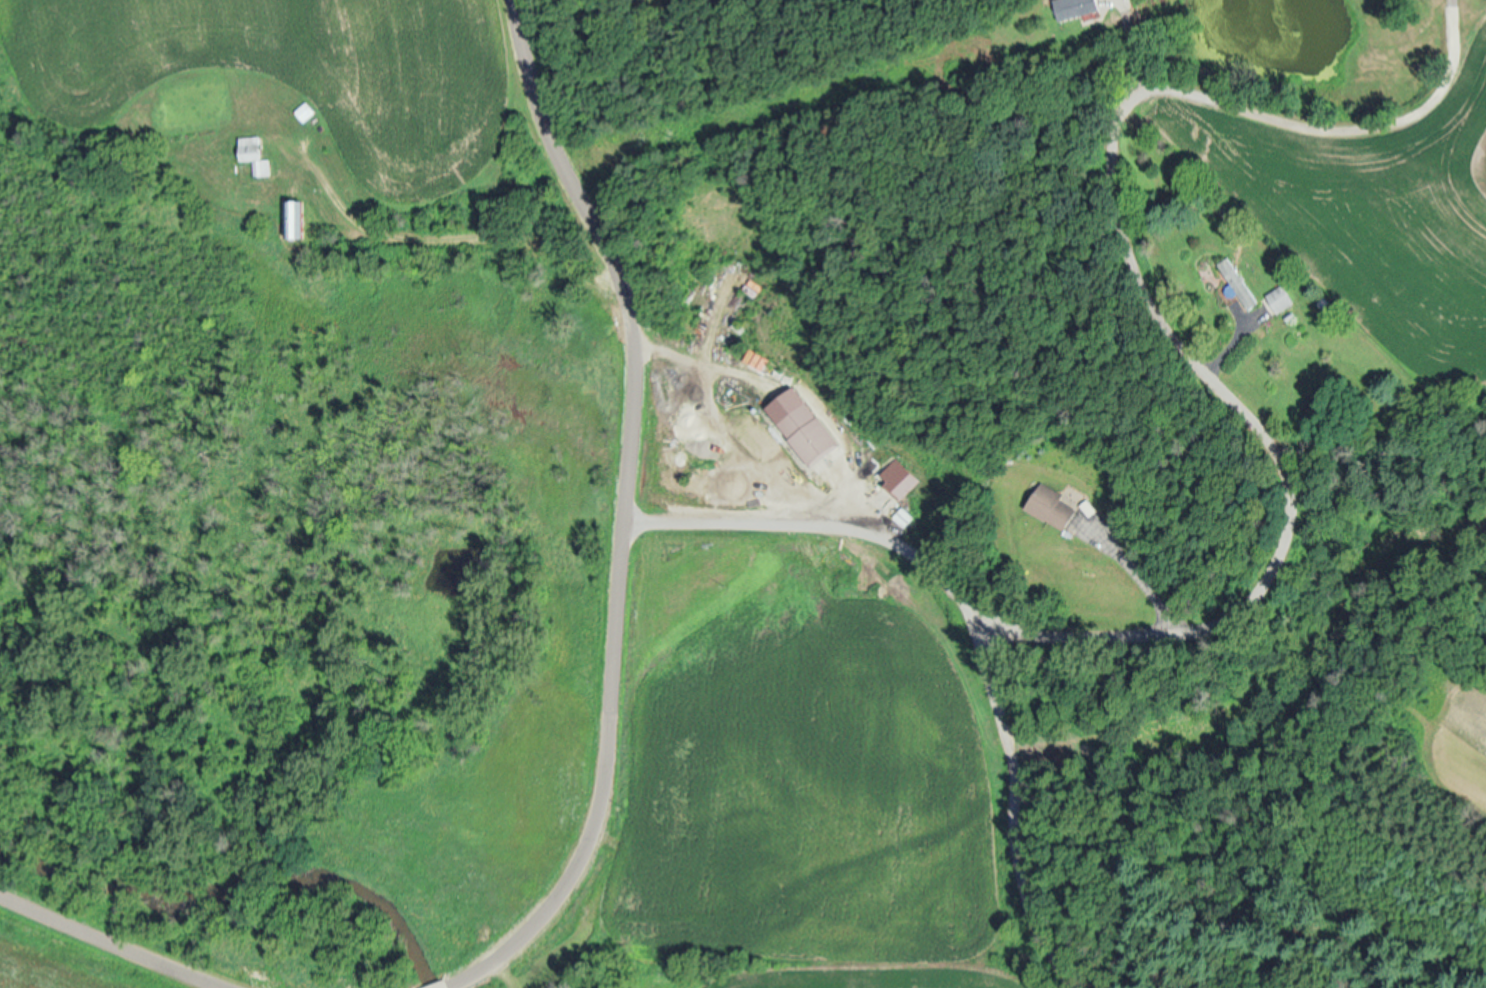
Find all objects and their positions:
building: (1079, 7)
building: (255, 154)
building: (293, 218)
road: (462, 238)
building: (1237, 282)
road: (1160, 293)
building: (1280, 297)
building: (804, 425)
building: (902, 481)
building: (1052, 505)
road: (814, 519)
road: (622, 520)
road: (1135, 566)
road: (1015, 805)
road: (114, 940)

